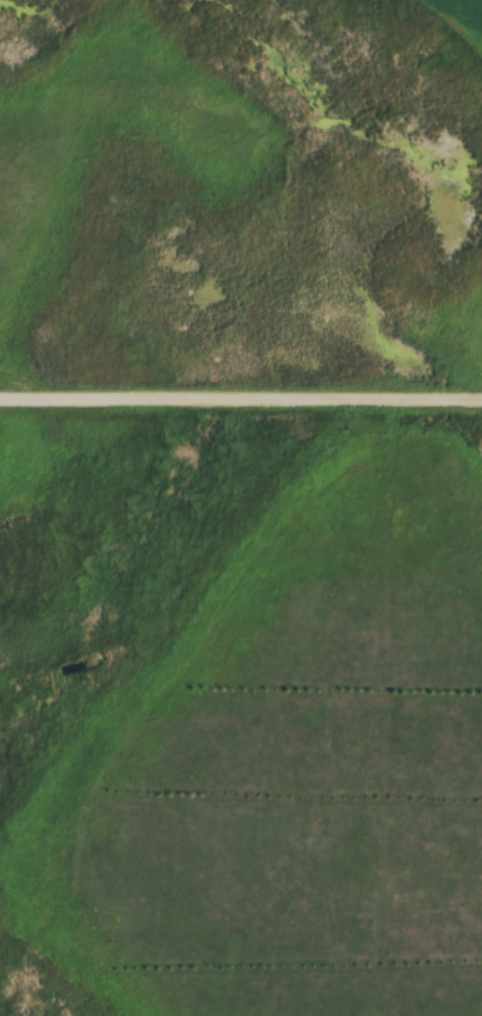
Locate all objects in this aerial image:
river: (324, 110)
road: (241, 394)

